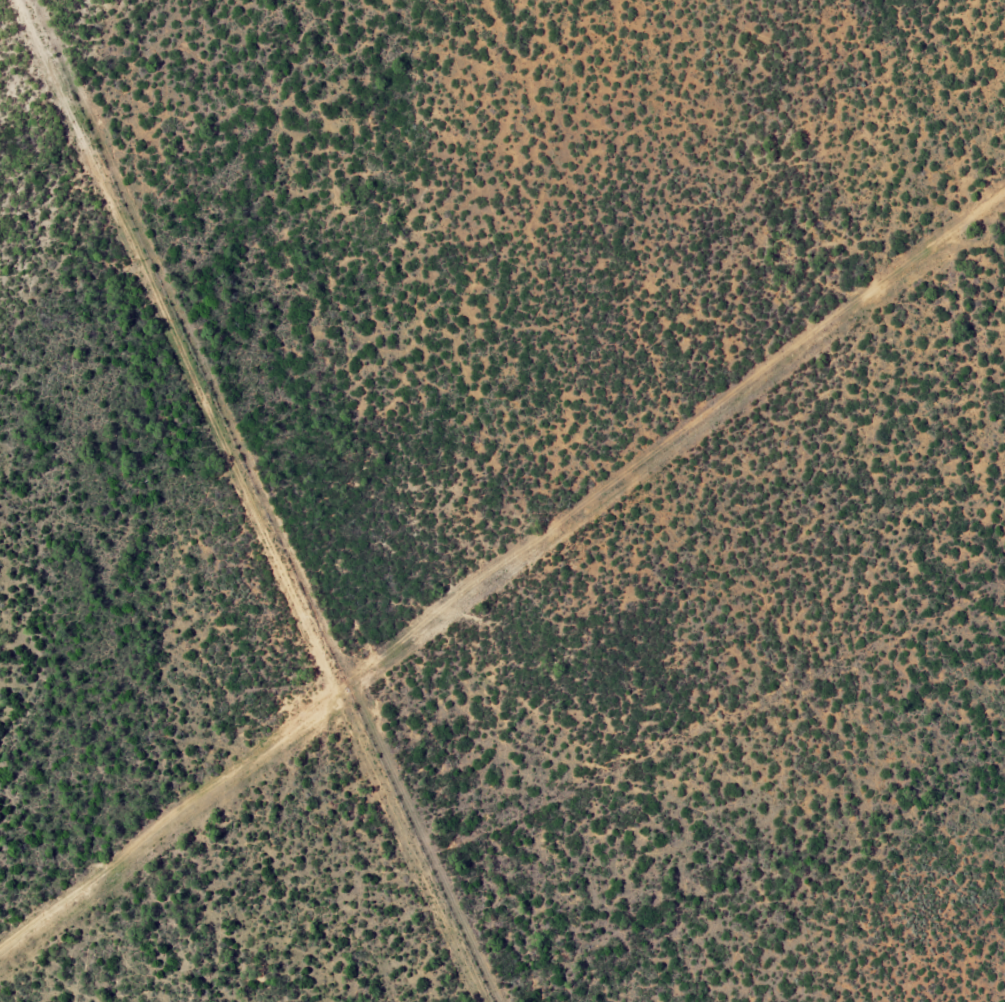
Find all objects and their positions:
road: (226, 500)

